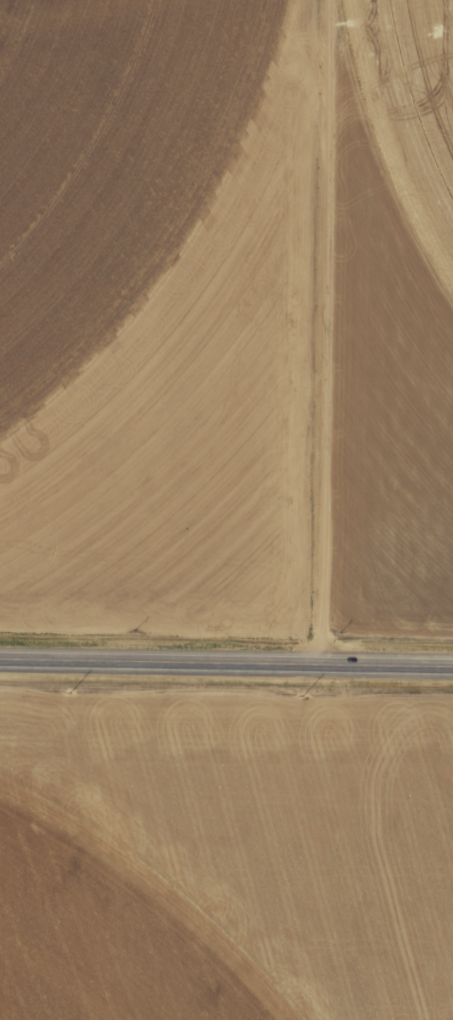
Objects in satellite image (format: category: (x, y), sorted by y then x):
road: (314, 334)
road: (226, 665)

